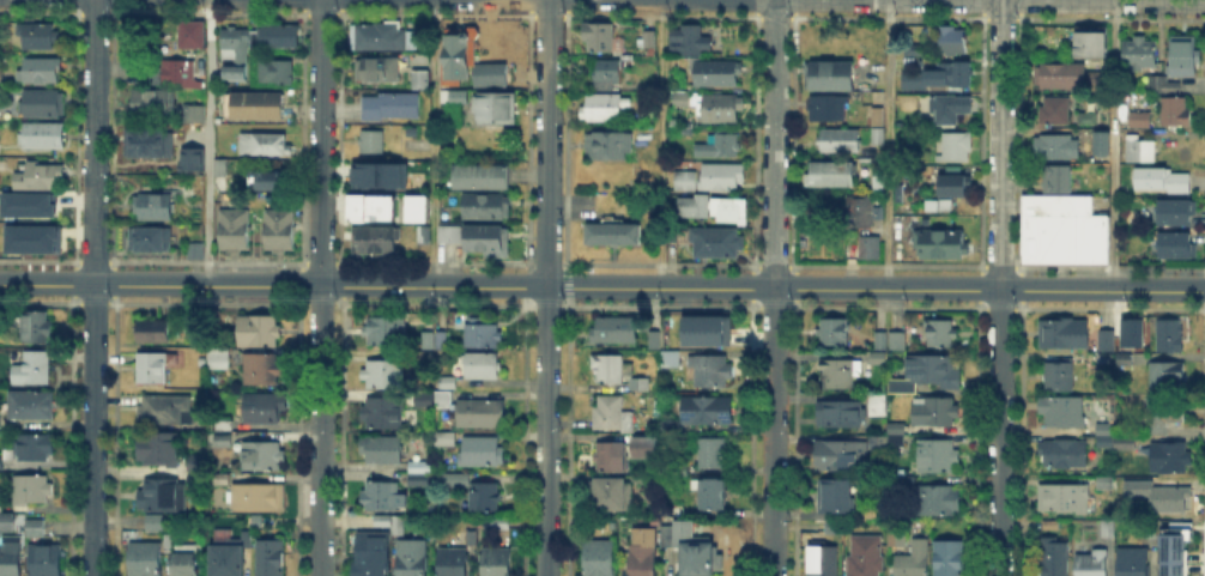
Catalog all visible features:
building: (648, 36)
building: (38, 37)
building: (279, 37)
building: (381, 37)
building: (600, 38)
building: (1092, 42)
building: (955, 43)
building: (193, 44)
building: (690, 44)
building: (916, 51)
building: (235, 54)
building: (489, 55)
building: (1142, 55)
building: (1182, 55)
building: (459, 56)
building: (42, 71)
building: (150, 71)
building: (178, 71)
building: (606, 71)
building: (379, 72)
building: (491, 74)
building: (719, 74)
building: (277, 75)
building: (938, 75)
building: (1054, 77)
building: (1095, 77)
building: (830, 78)
building: (422, 81)
building: (1157, 83)
building: (1173, 89)
building: (458, 97)
building: (680, 101)
building: (44, 102)
building: (152, 105)
building: (720, 107)
building: (254, 108)
building: (392, 108)
building: (602, 108)
building: (829, 109)
building: (496, 110)
building: (950, 110)
building: (1054, 113)
building: (1177, 113)
building: (1088, 117)
building: (1142, 119)
building: (196, 121)
building: (879, 128)
building: (1104, 134)
building: (42, 137)
building: (840, 141)
building: (145, 143)
road: (207, 143)
building: (373, 143)
road: (432, 144)
road: (659, 144)
building: (715, 145)
road: (888, 145)
road: (1113, 145)
building: (265, 146)
building: (610, 146)
building: (956, 147)
building: (1058, 148)
building: (1140, 150)
building: (222, 169)
building: (381, 174)
building: (832, 175)
building: (41, 176)
building: (483, 176)
building: (720, 178)
building: (1059, 180)
building: (268, 182)
building: (686, 182)
building: (1164, 182)
building: (880, 187)
building: (955, 187)
building: (903, 195)
building: (26, 204)
building: (692, 205)
building: (157, 206)
building: (370, 206)
building: (413, 206)
building: (728, 206)
building: (488, 207)
building: (858, 212)
building: (1177, 214)
building: (234, 231)
building: (280, 232)
building: (1065, 234)
building: (450, 235)
building: (614, 235)
building: (28, 237)
building: (425, 237)
building: (153, 241)
building: (374, 241)
building: (486, 241)
building: (717, 244)
building: (940, 245)
building: (1177, 247)
building: (196, 251)
building: (870, 251)
road: (92, 287)
road: (319, 287)
road: (546, 287)
road: (774, 287)
road: (1000, 287)
road: (601, 289)
building: (37, 325)
building: (701, 328)
building: (616, 329)
building: (153, 331)
building: (260, 331)
building: (387, 331)
building: (831, 332)
building: (943, 334)
building: (1065, 334)
building: (480, 335)
building: (1171, 336)
building: (442, 339)
building: (880, 339)
building: (426, 340)
building: (896, 340)
building: (1107, 340)
building: (1122, 340)
building: (656, 342)
building: (670, 357)
building: (424, 358)
building: (1127, 359)
building: (219, 360)
building: (1104, 362)
building: (482, 368)
building: (34, 369)
building: (152, 369)
building: (264, 370)
building: (617, 371)
building: (712, 372)
building: (840, 375)
building: (927, 375)
building: (386, 376)
building: (1060, 377)
building: (1167, 377)
building: (449, 381)
building: (423, 394)
building: (444, 400)
building: (32, 405)
building: (877, 405)
building: (165, 408)
building: (265, 410)
building: (707, 411)
building: (935, 413)
building: (383, 414)
building: (480, 414)
building: (612, 416)
building: (838, 416)
building: (1068, 416)
building: (1162, 417)
building: (1106, 429)
building: (895, 433)
building: (447, 438)
building: (224, 442)
building: (878, 442)
building: (1106, 442)
building: (1126, 443)
building: (650, 447)
building: (35, 449)
building: (159, 450)
building: (388, 450)
building: (482, 451)
building: (713, 453)
building: (262, 455)
building: (1064, 455)
building: (1170, 456)
building: (612, 457)
building: (842, 457)
building: (939, 459)
building: (1, 463)
building: (420, 467)
building: (1106, 480)
building: (419, 481)
building: (452, 481)
building: (908, 483)
building: (31, 491)
building: (159, 495)
building: (380, 496)
building: (611, 496)
building: (713, 497)
building: (259, 498)
building: (835, 498)
building: (1168, 498)
building: (485, 499)
building: (1064, 499)
building: (939, 502)
building: (0, 503)
building: (874, 514)
building: (380, 521)
building: (6, 522)
building: (502, 523)
building: (155, 525)
building: (396, 525)
building: (1052, 526)
building: (835, 528)
building: (1168, 528)
building: (35, 529)
building: (1108, 529)
building: (626, 530)
building: (470, 538)
building: (896, 538)
building: (166, 540)
building: (186, 545)
building: (690, 550)
building: (373, 553)
building: (10, 554)
building: (866, 556)
building: (272, 558)
building: (412, 558)
building: (601, 558)
building: (145, 559)
building: (823, 559)
building: (1053, 559)
building: (229, 560)
building: (643, 560)
building: (912, 560)
building: (950, 560)
building: (1174, 560)
building: (46, 562)
building: (186, 562)
building: (452, 563)
building: (496, 563)
building: (1133, 563)
building: (1092, 565)

